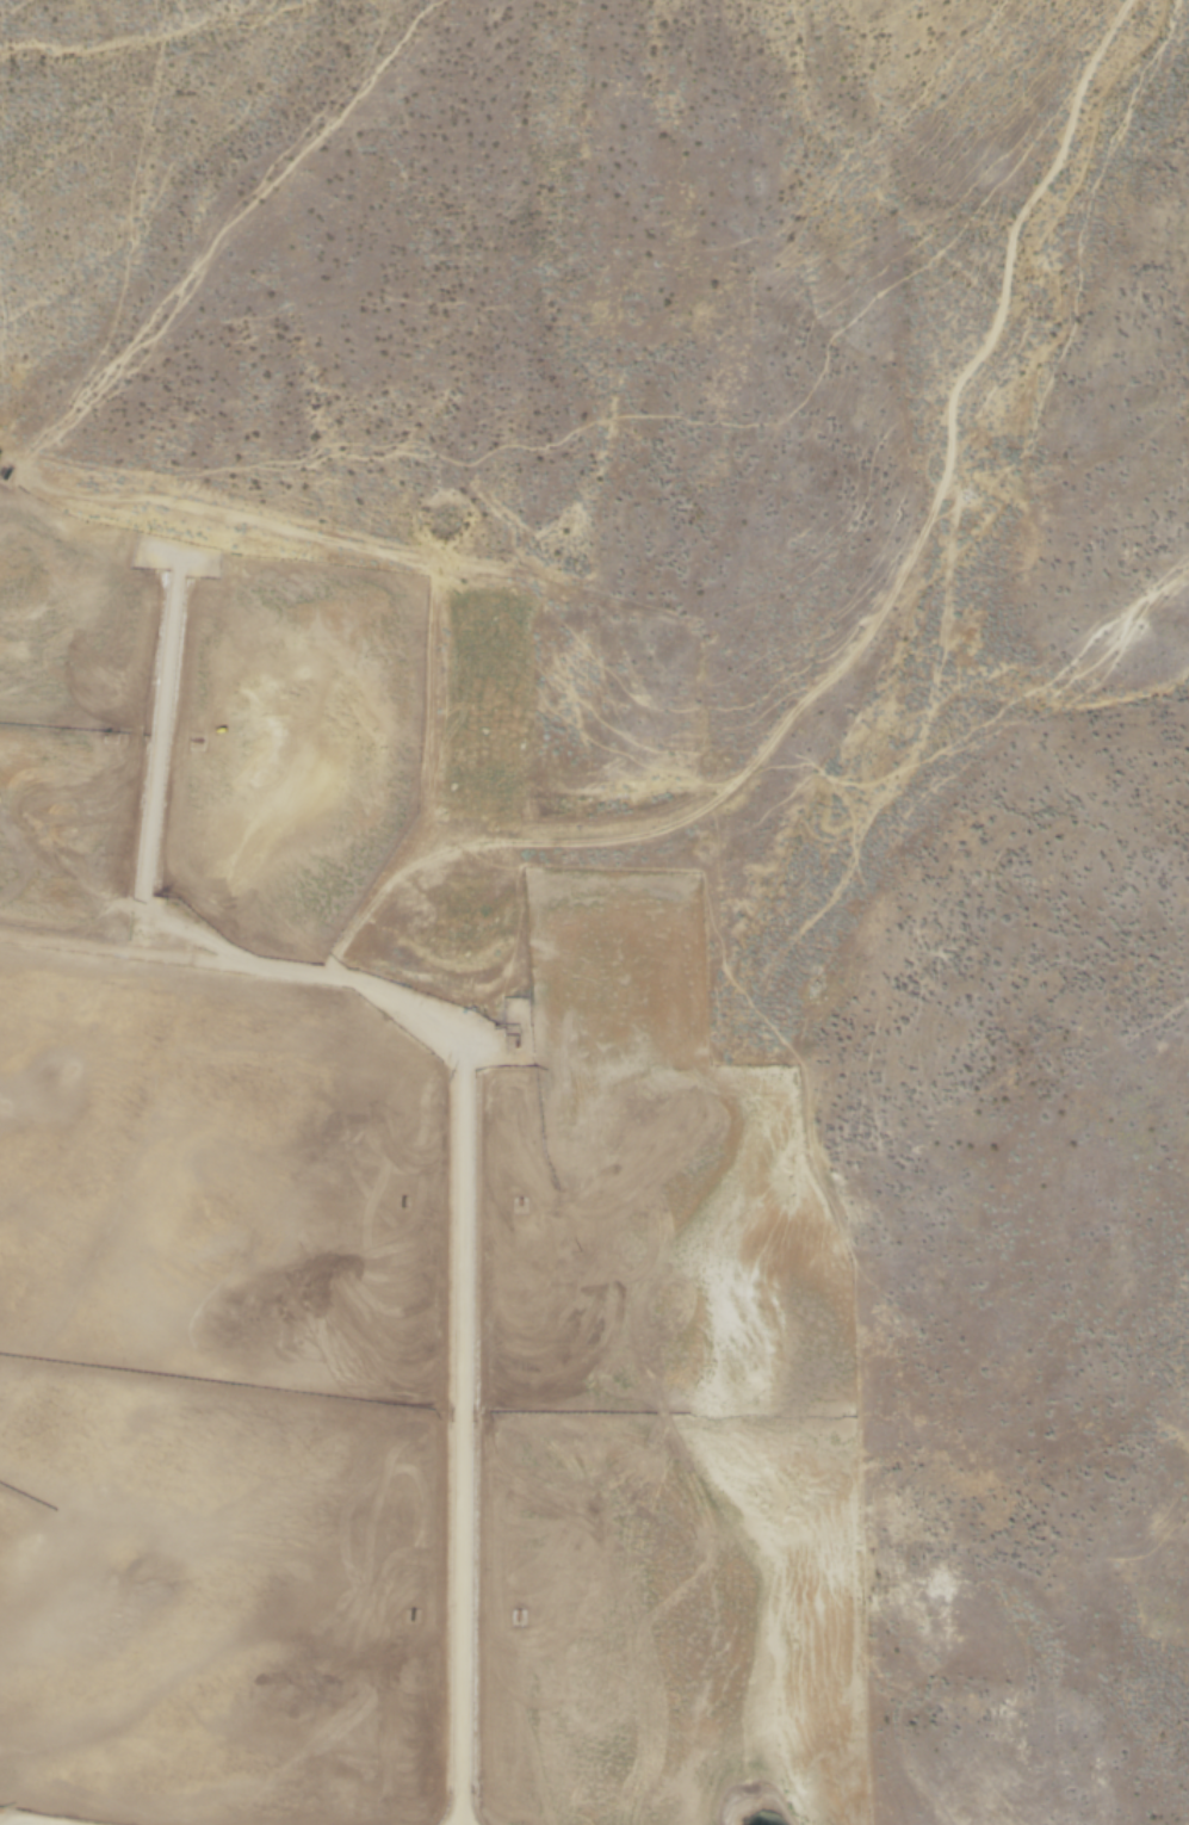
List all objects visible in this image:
road: (875, 629)
road: (464, 1069)
road: (31, 1820)

